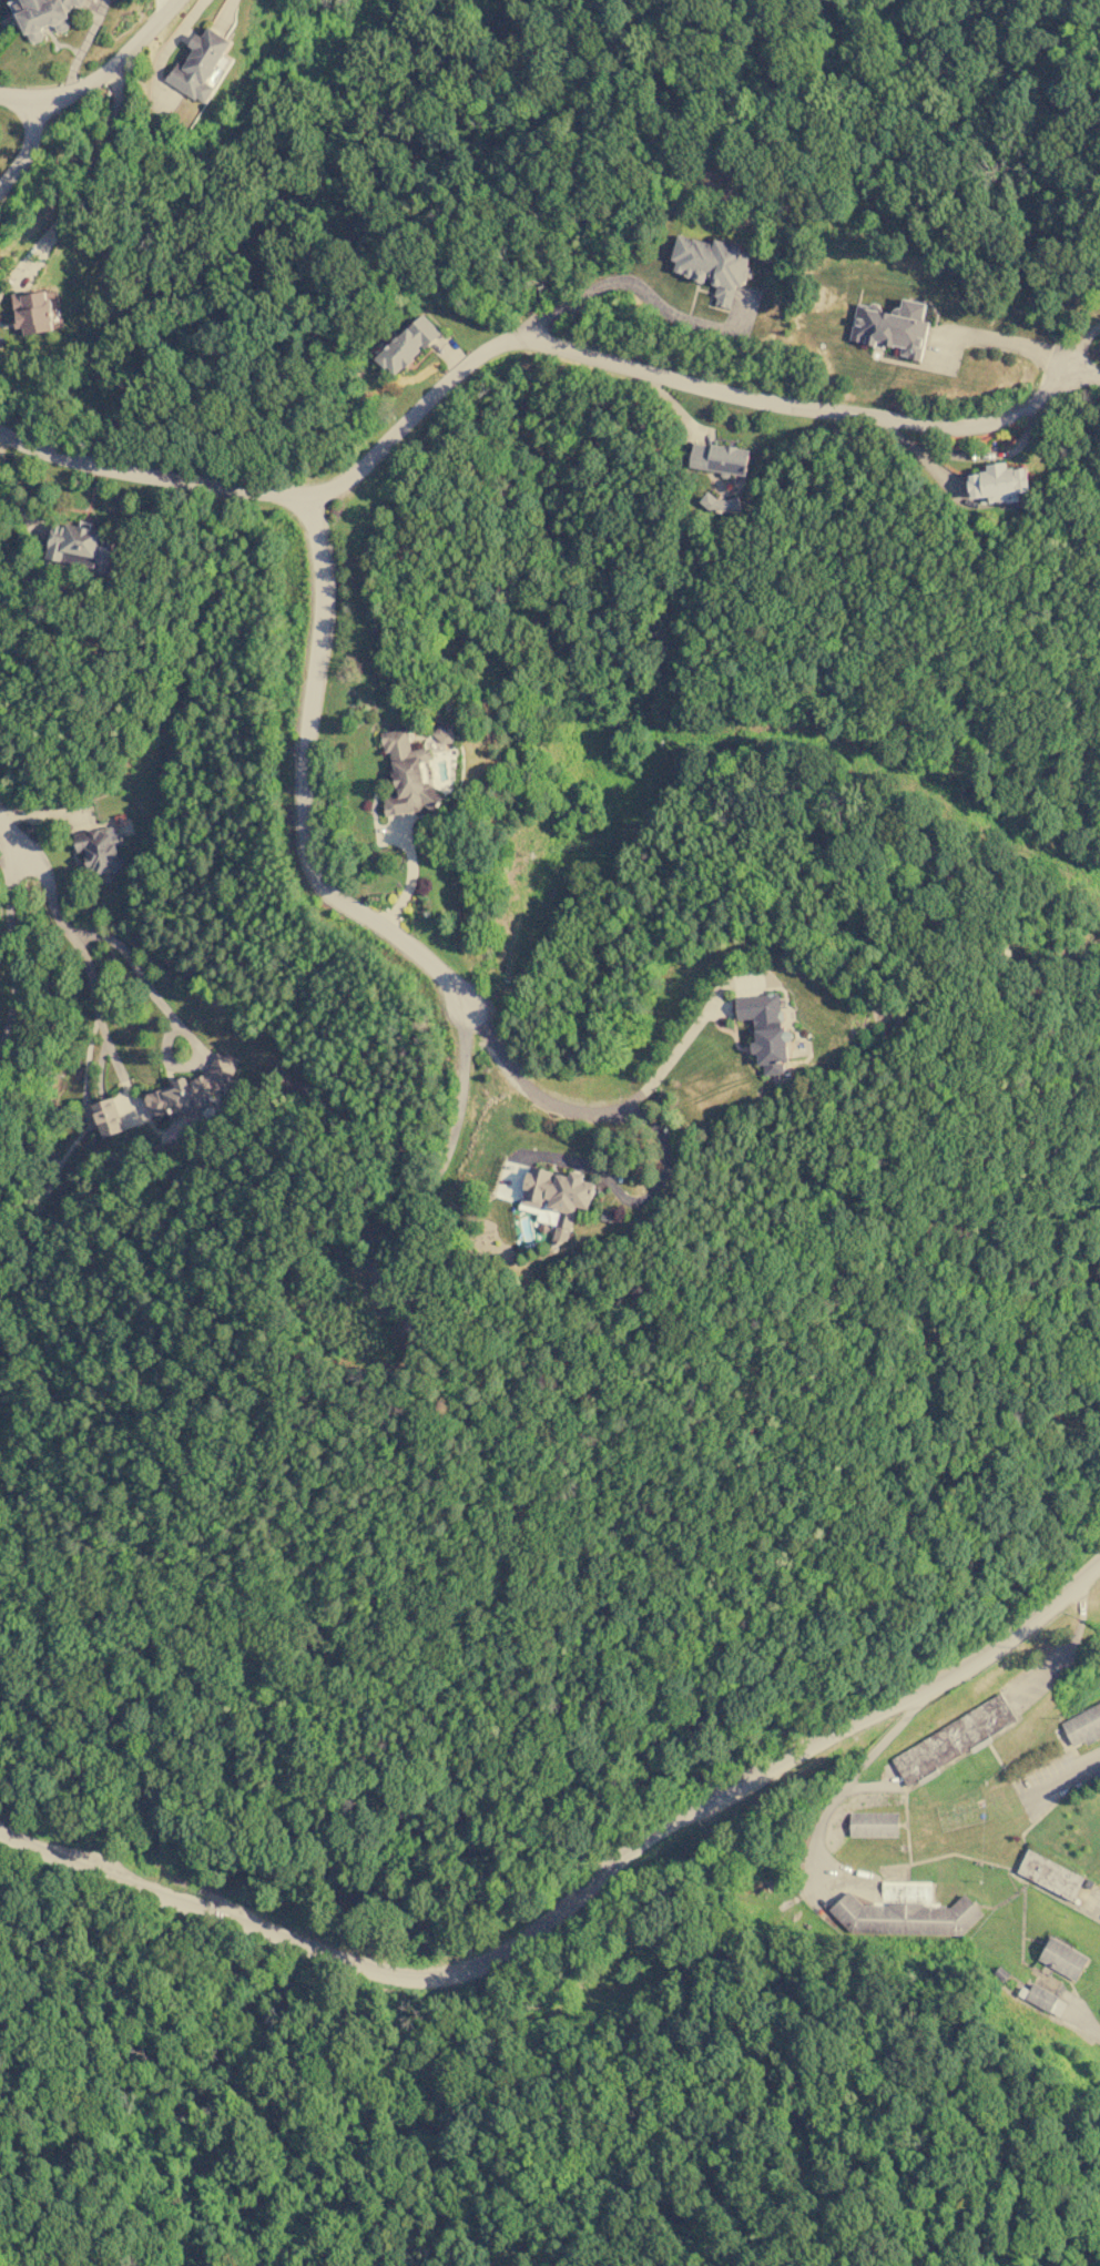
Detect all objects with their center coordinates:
building: (42, 16)
building: (200, 65)
road: (74, 90)
road: (19, 95)
building: (712, 265)
building: (33, 312)
building: (892, 327)
road: (528, 342)
building: (408, 345)
building: (720, 458)
building: (998, 482)
building: (719, 504)
building: (81, 545)
building: (445, 735)
building: (407, 774)
road: (14, 840)
building: (99, 850)
road: (324, 886)
road: (116, 944)
road: (13, 953)
road: (99, 1016)
building: (765, 1030)
building: (193, 1089)
building: (108, 1117)
building: (556, 1198)
building: (1082, 1725)
building: (954, 1739)
road: (1060, 1780)
building: (874, 1825)
building: (1049, 1874)
road: (573, 1900)
building: (905, 1912)
building: (1062, 1959)
building: (1045, 2000)

